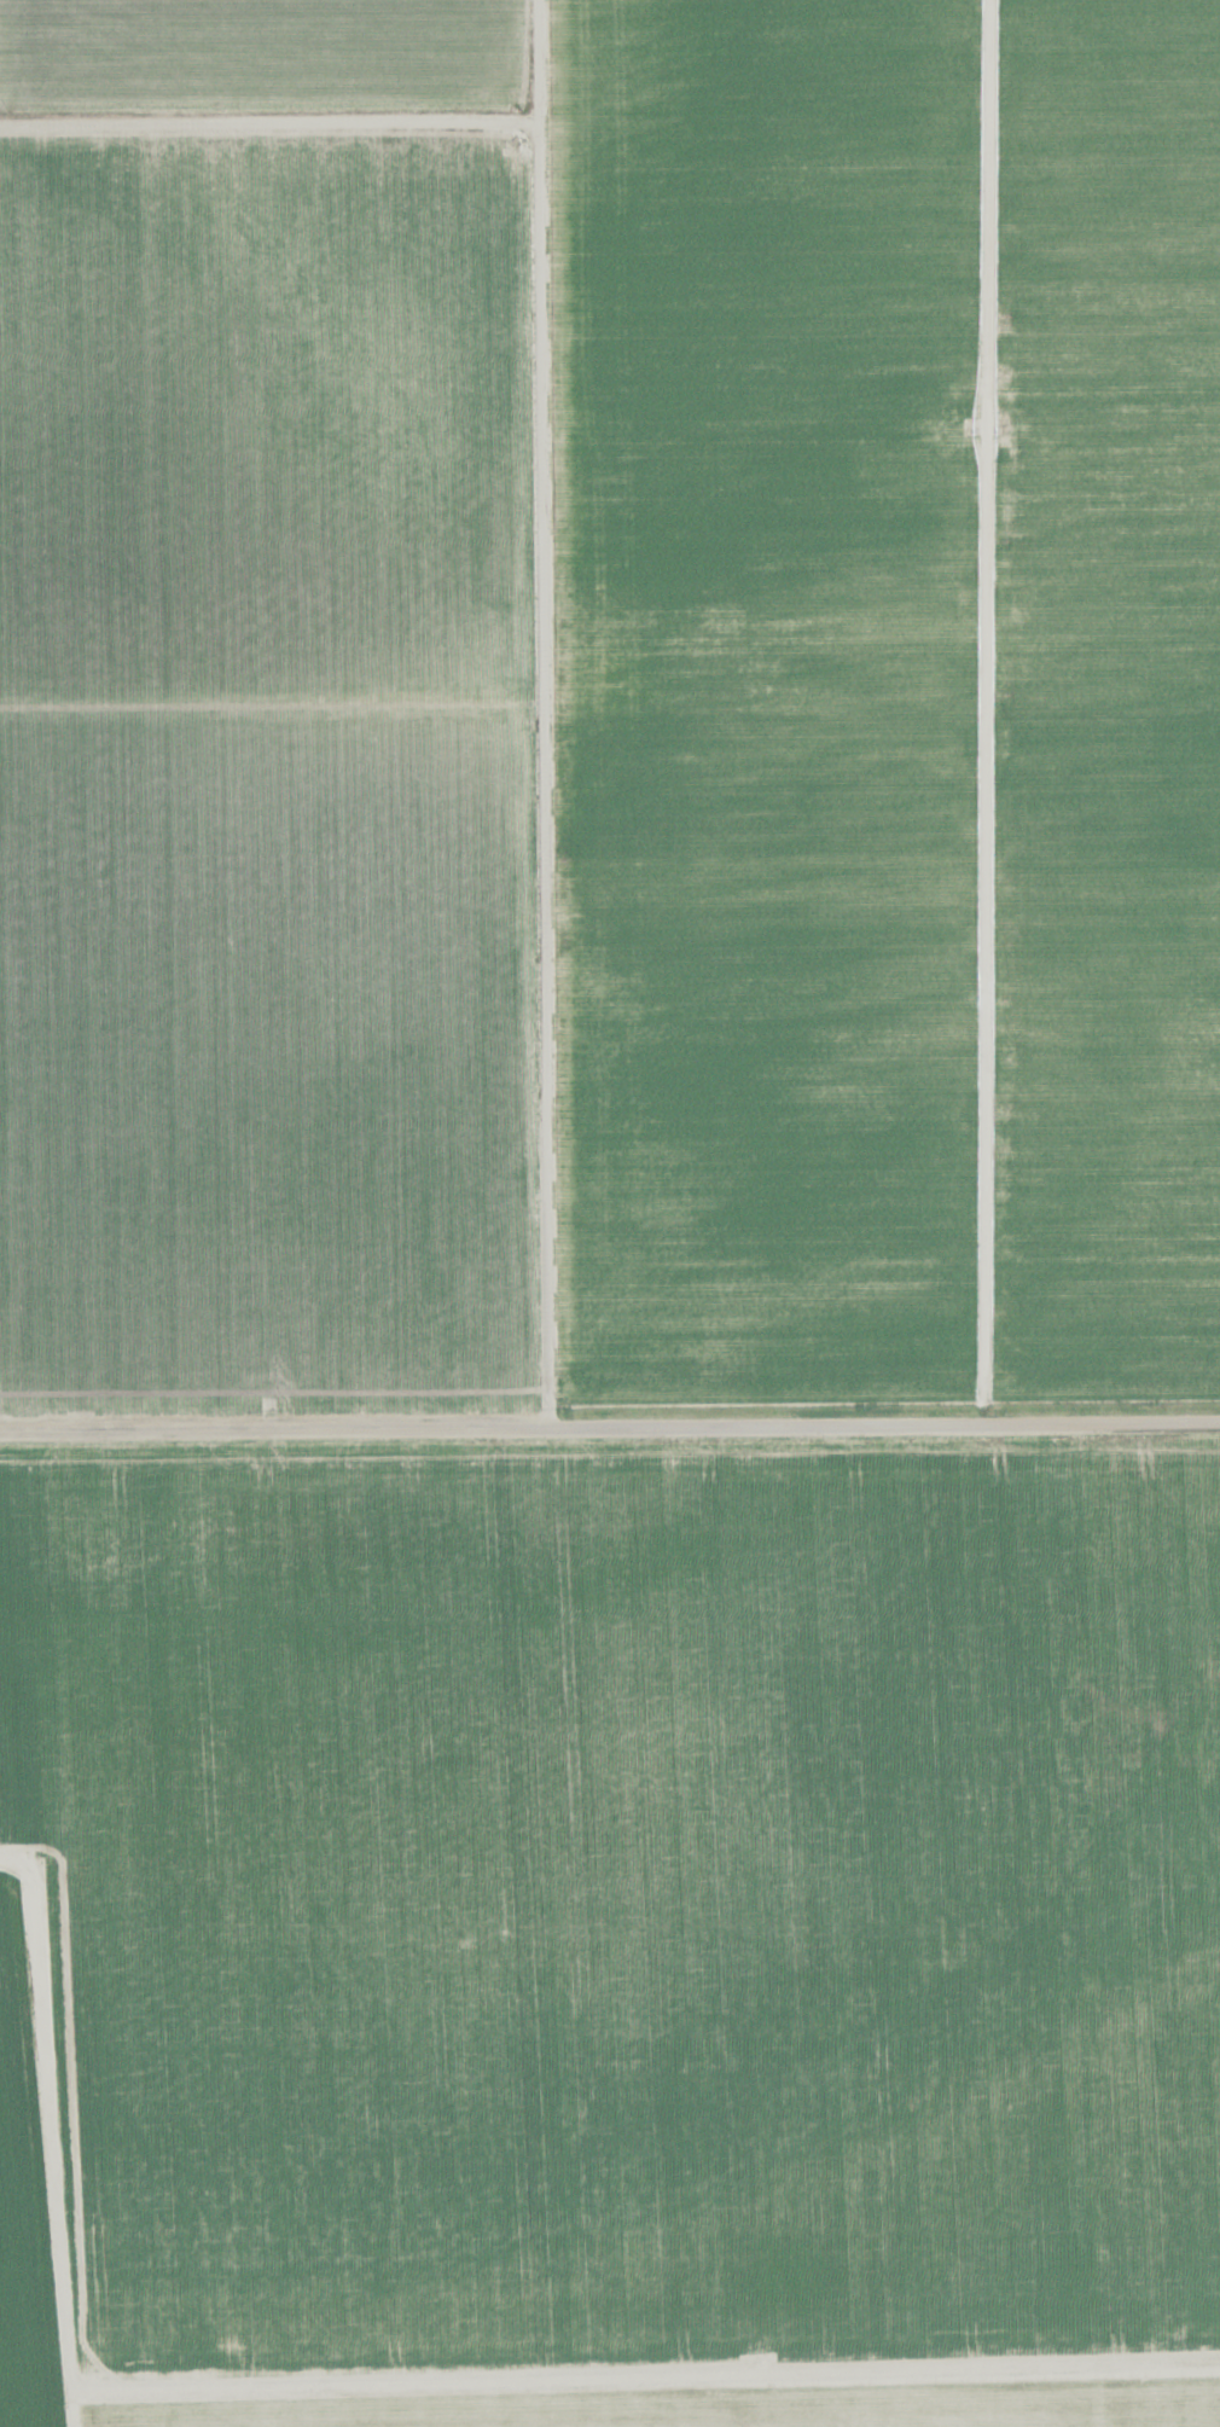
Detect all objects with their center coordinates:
road: (266, 123)
road: (534, 715)
road: (609, 1430)
road: (1086, 1928)
road: (42, 2138)
road: (640, 2350)

